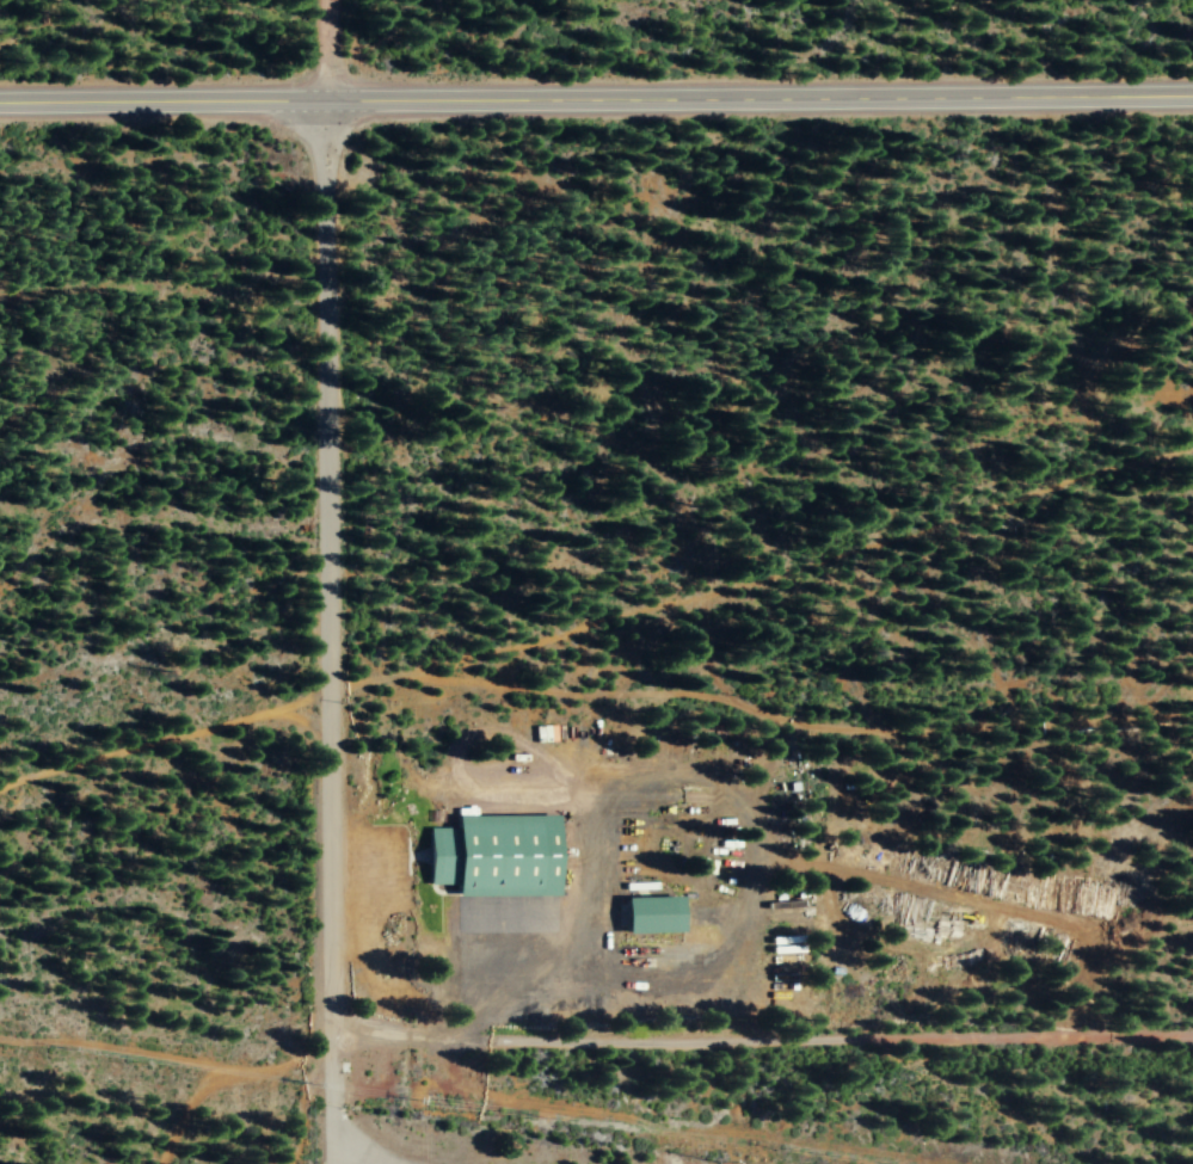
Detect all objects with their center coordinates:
road: (596, 91)
road: (330, 581)
building: (494, 854)
building: (652, 913)
road: (765, 1034)

